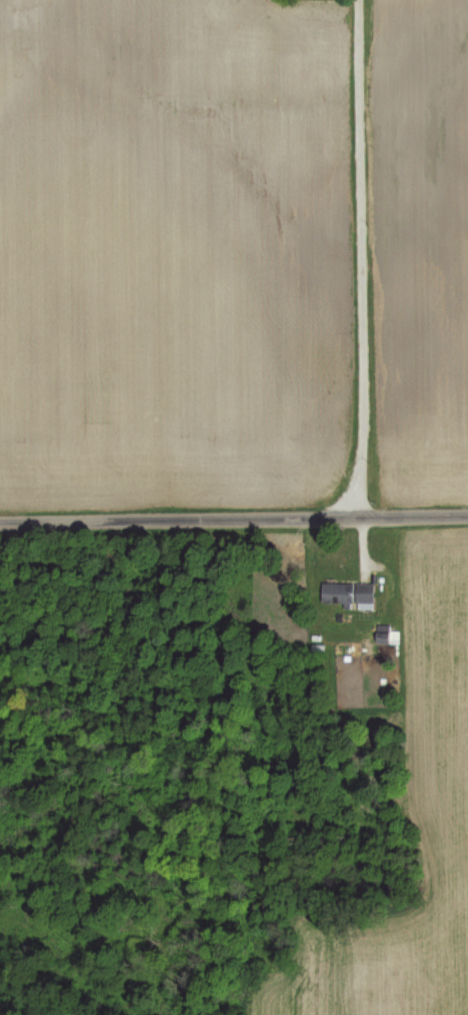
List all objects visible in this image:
road: (357, 257)
road: (233, 518)
building: (347, 592)

